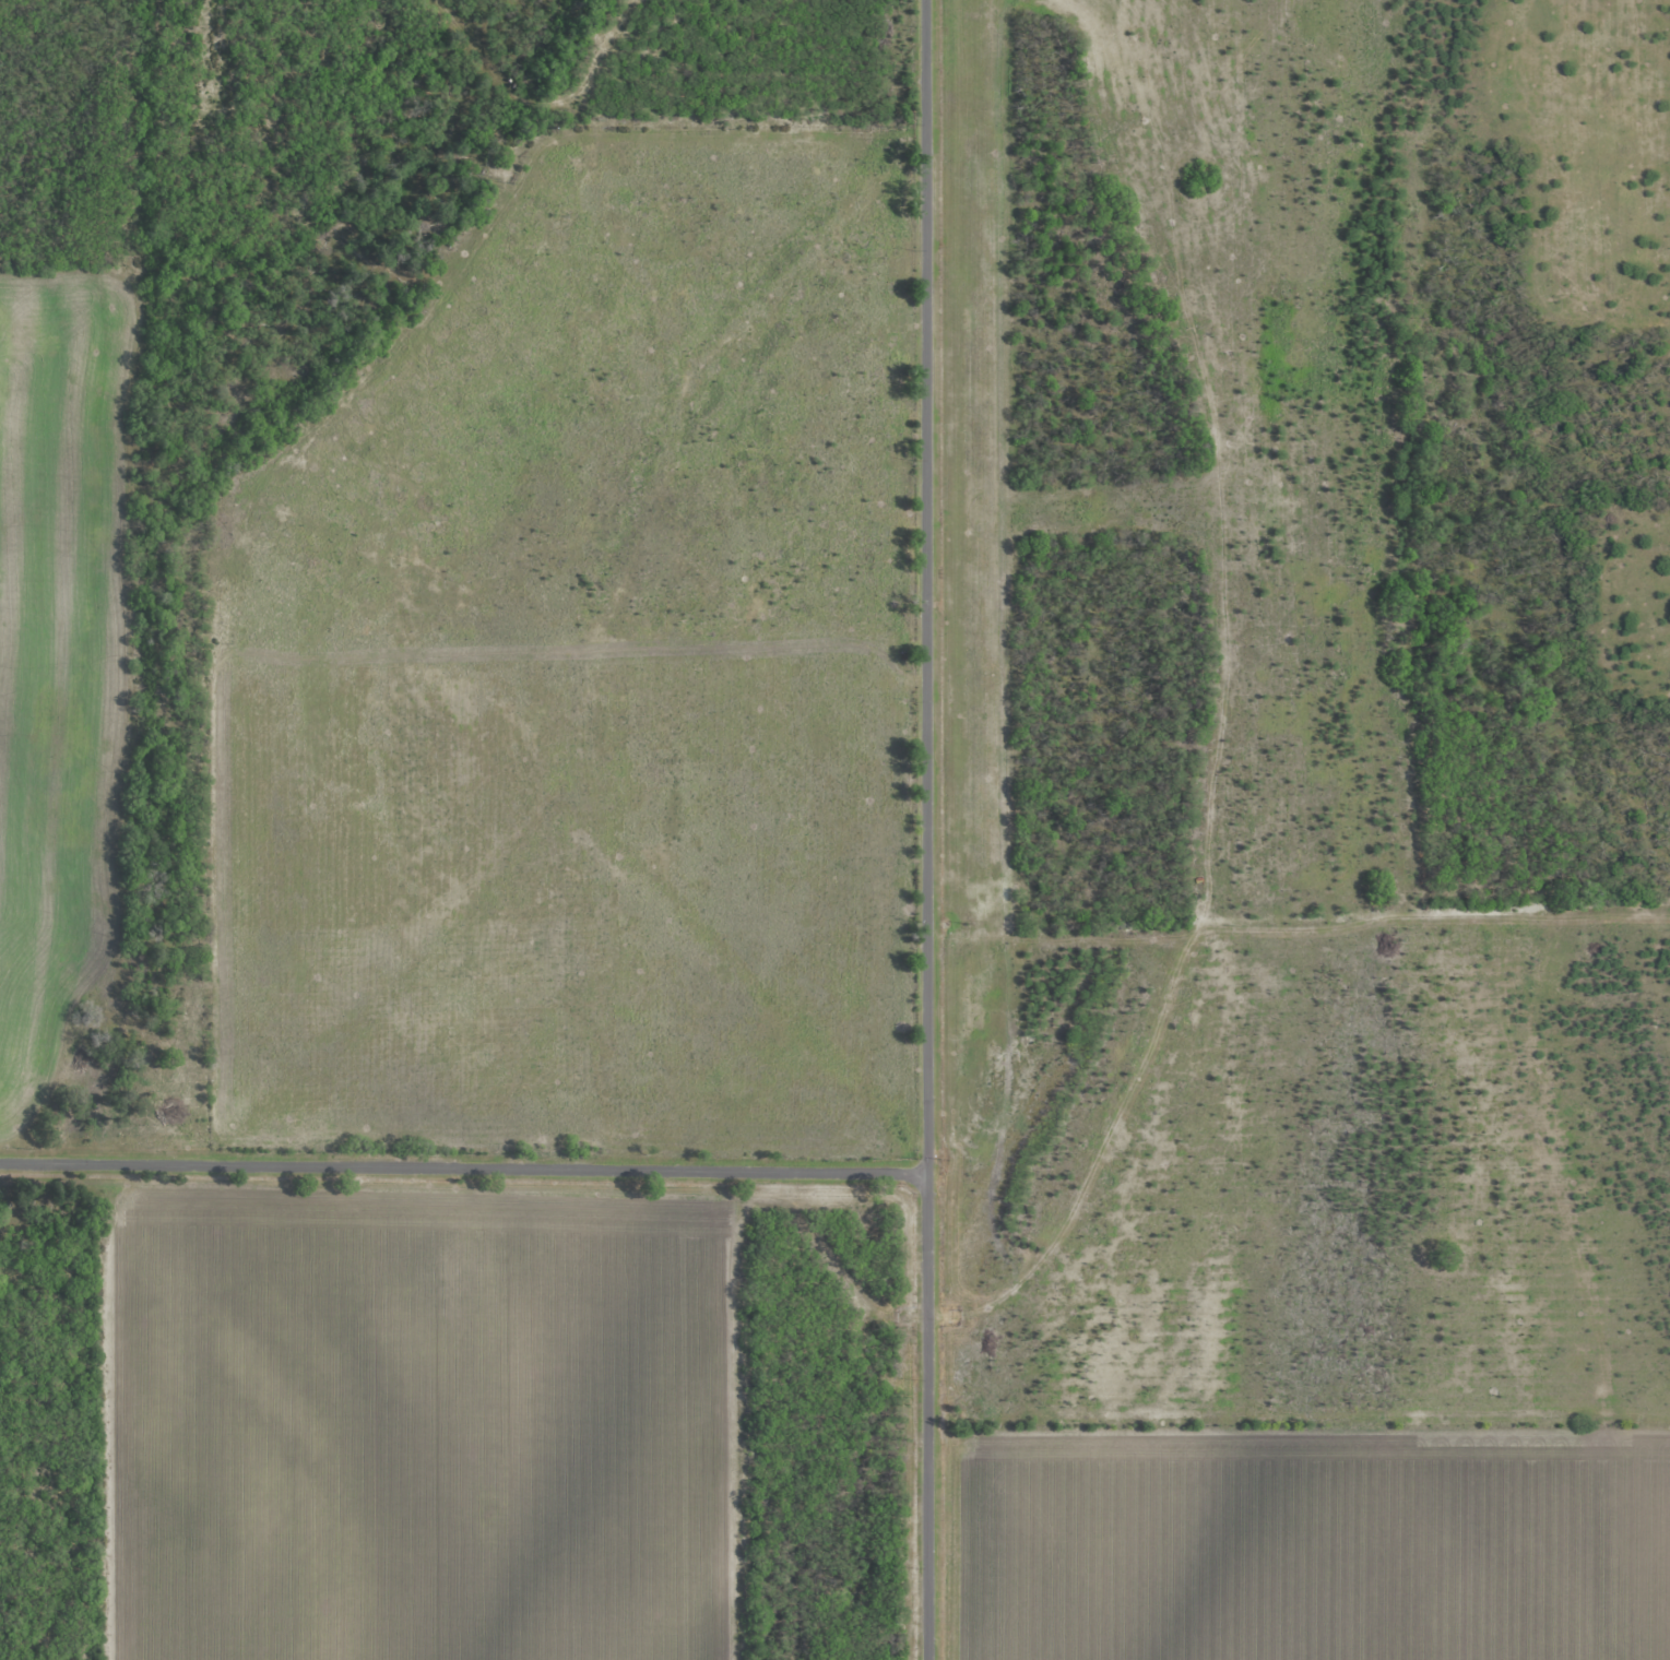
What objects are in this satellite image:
road: (929, 830)
road: (464, 1169)

